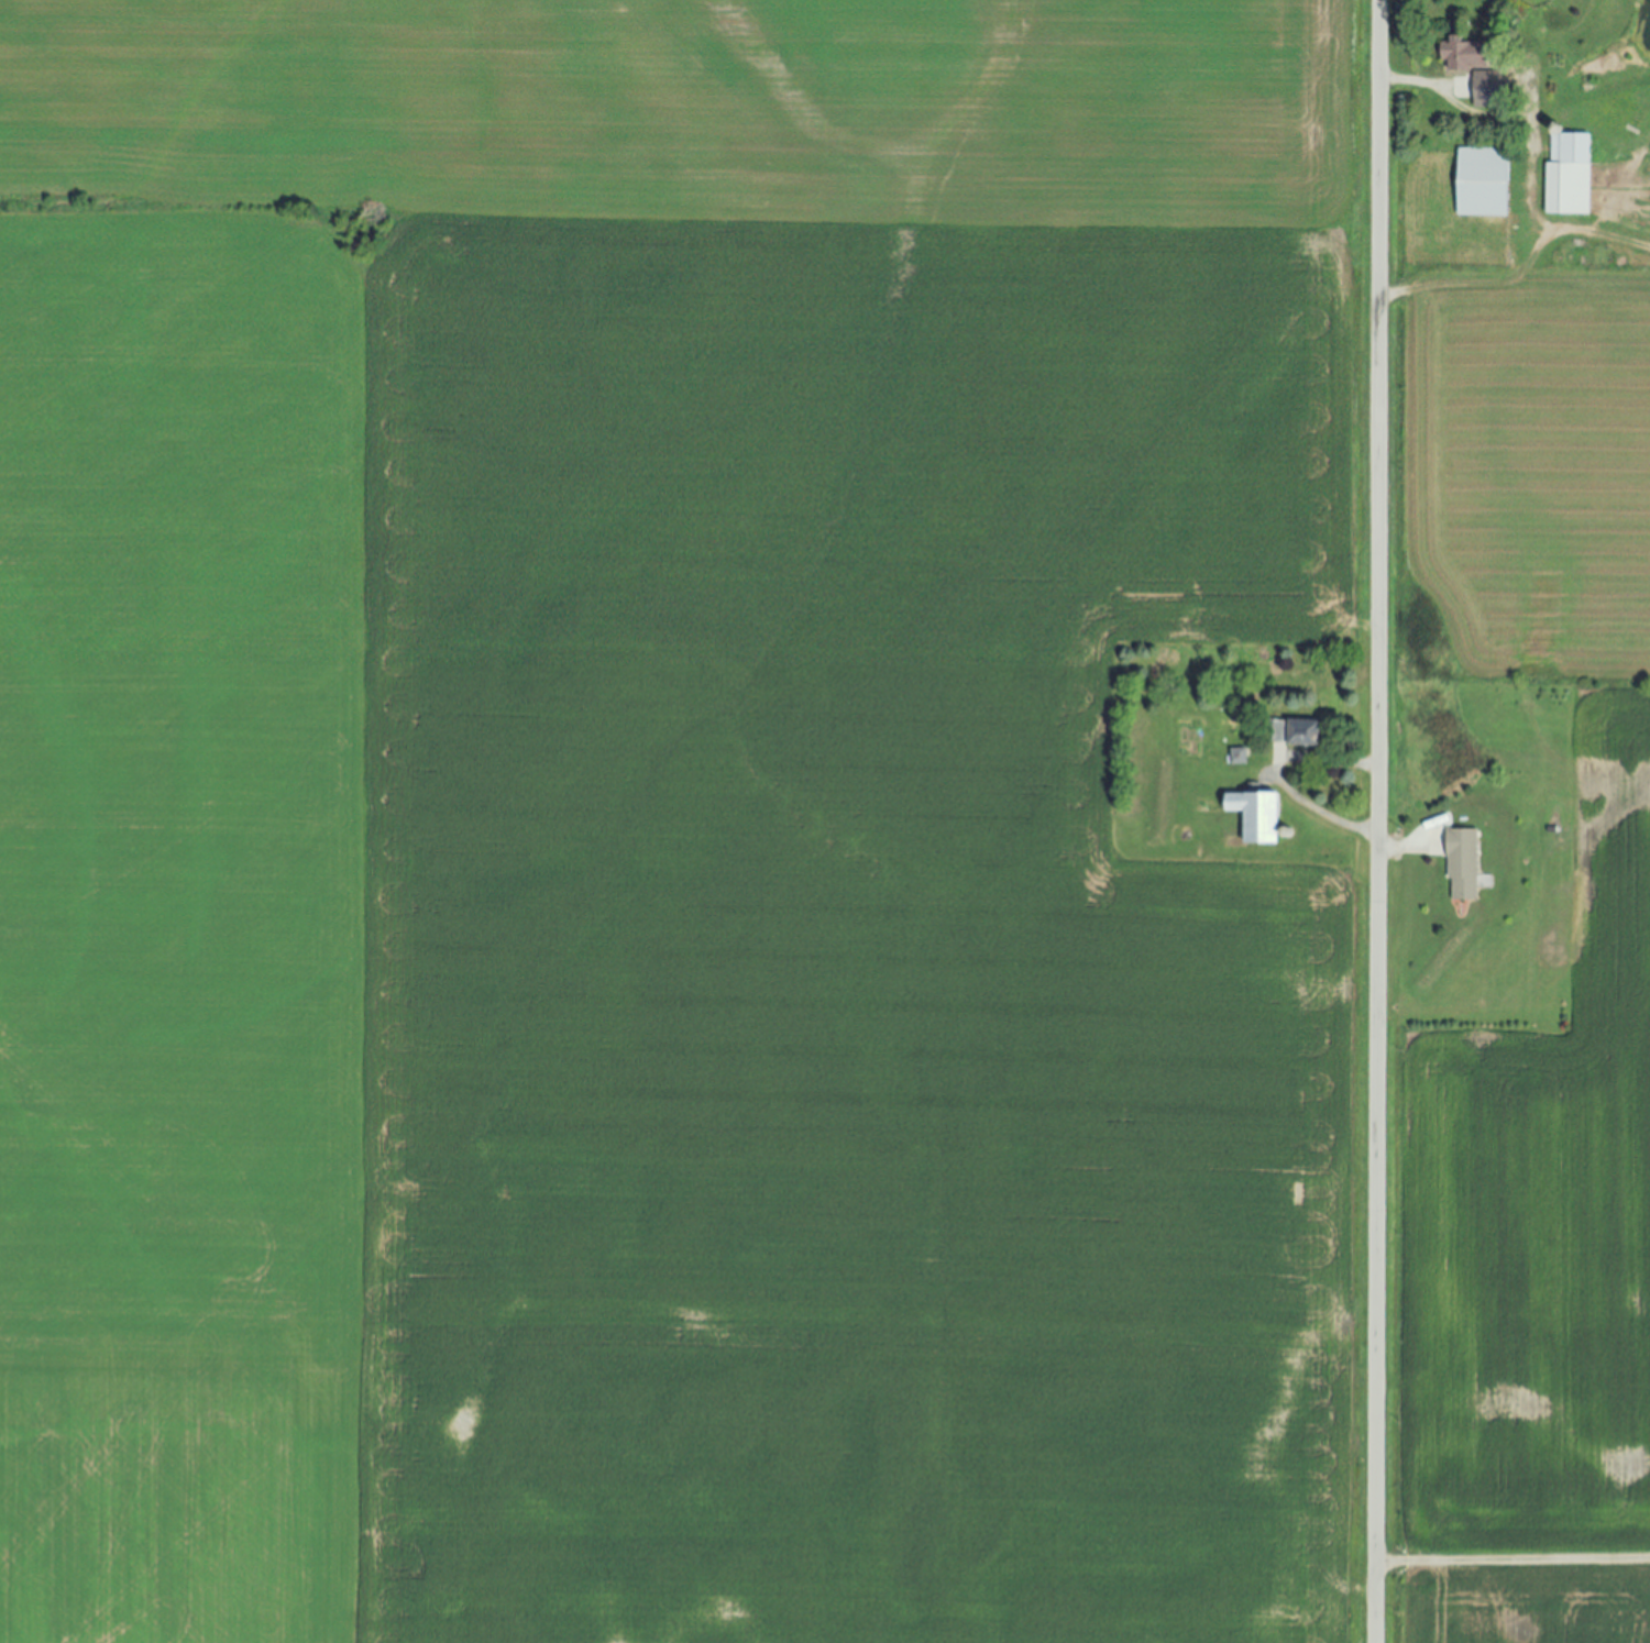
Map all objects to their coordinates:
building: (1474, 71)
road: (1415, 82)
building: (1568, 176)
building: (1481, 184)
road: (1515, 285)
building: (1294, 732)
building: (1235, 757)
road: (1299, 802)
building: (1253, 815)
road: (1379, 821)
building: (1461, 865)
road: (1513, 1562)

